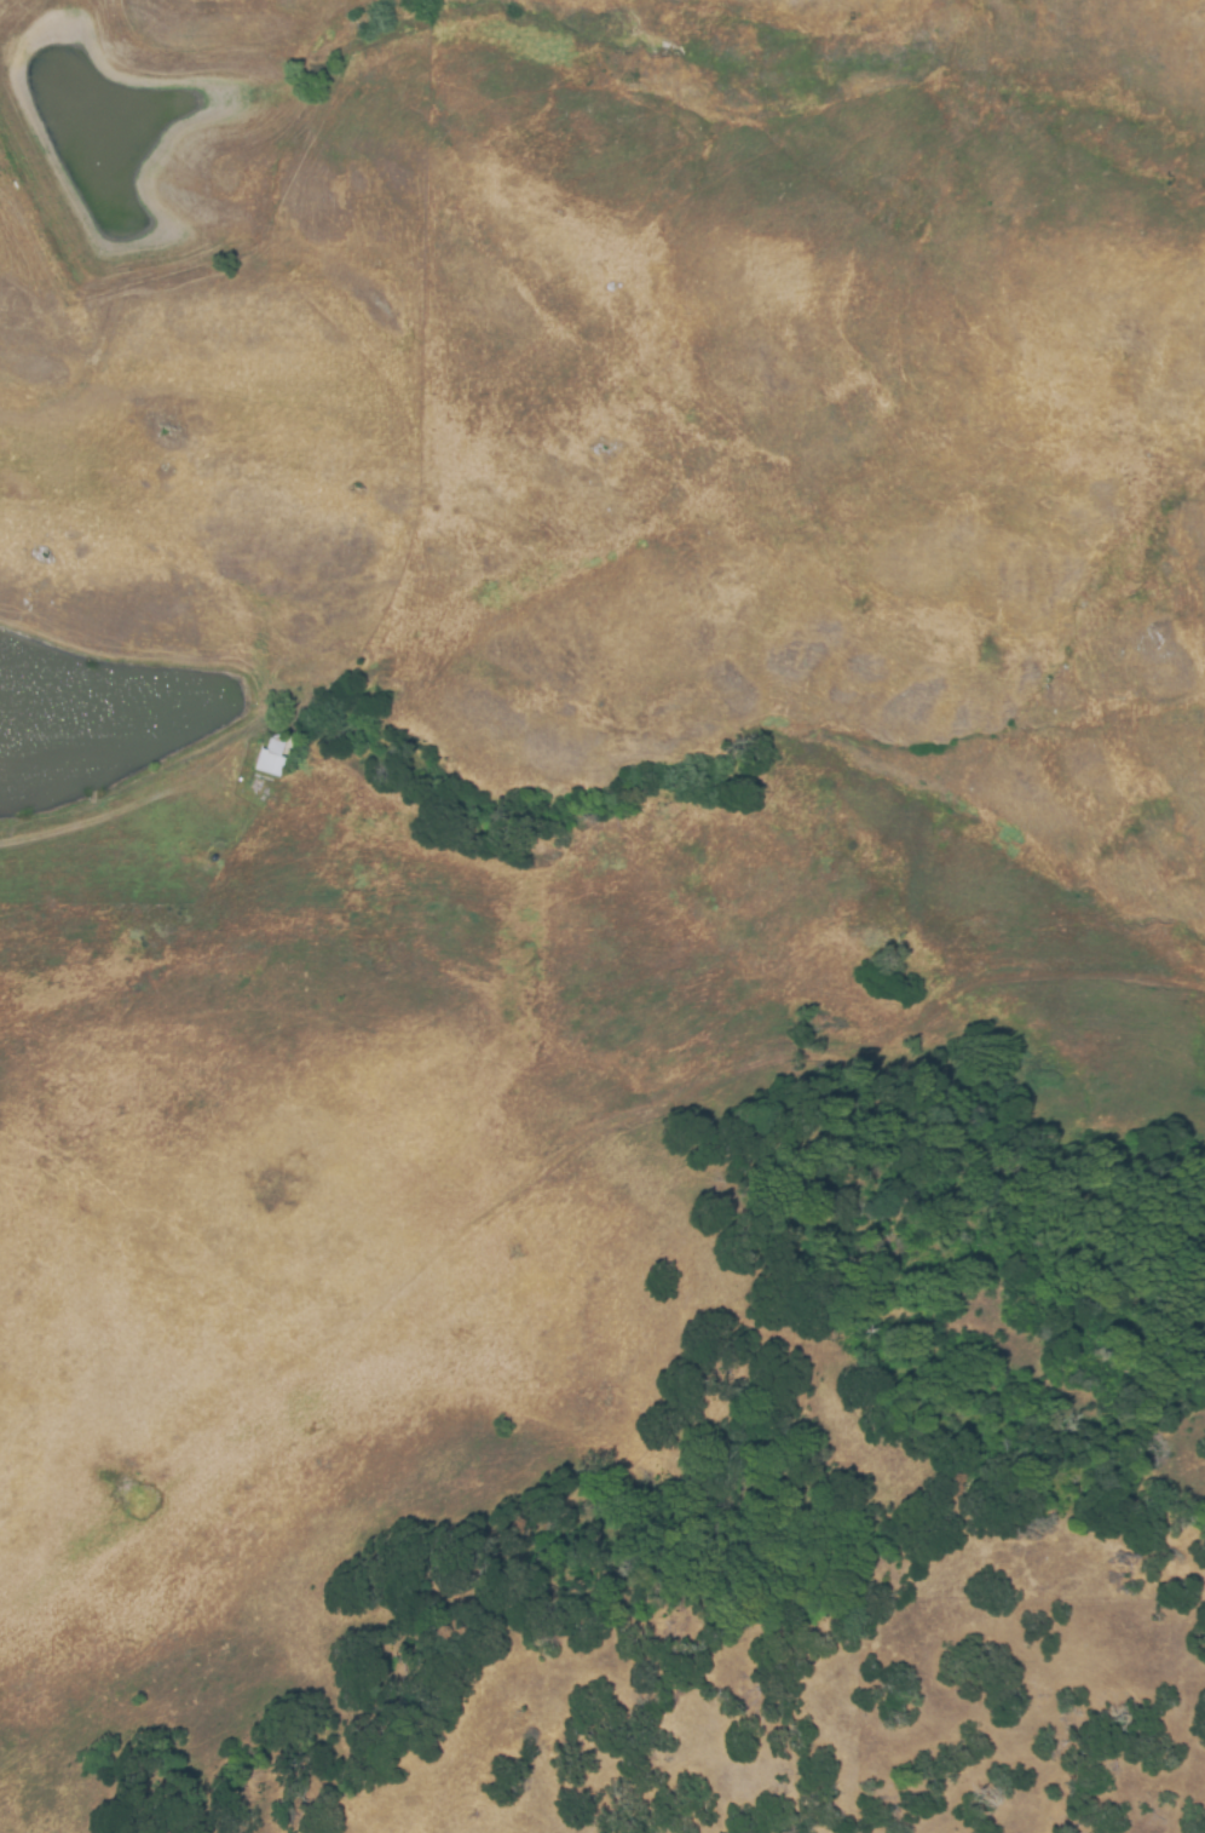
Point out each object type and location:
building: (276, 754)

